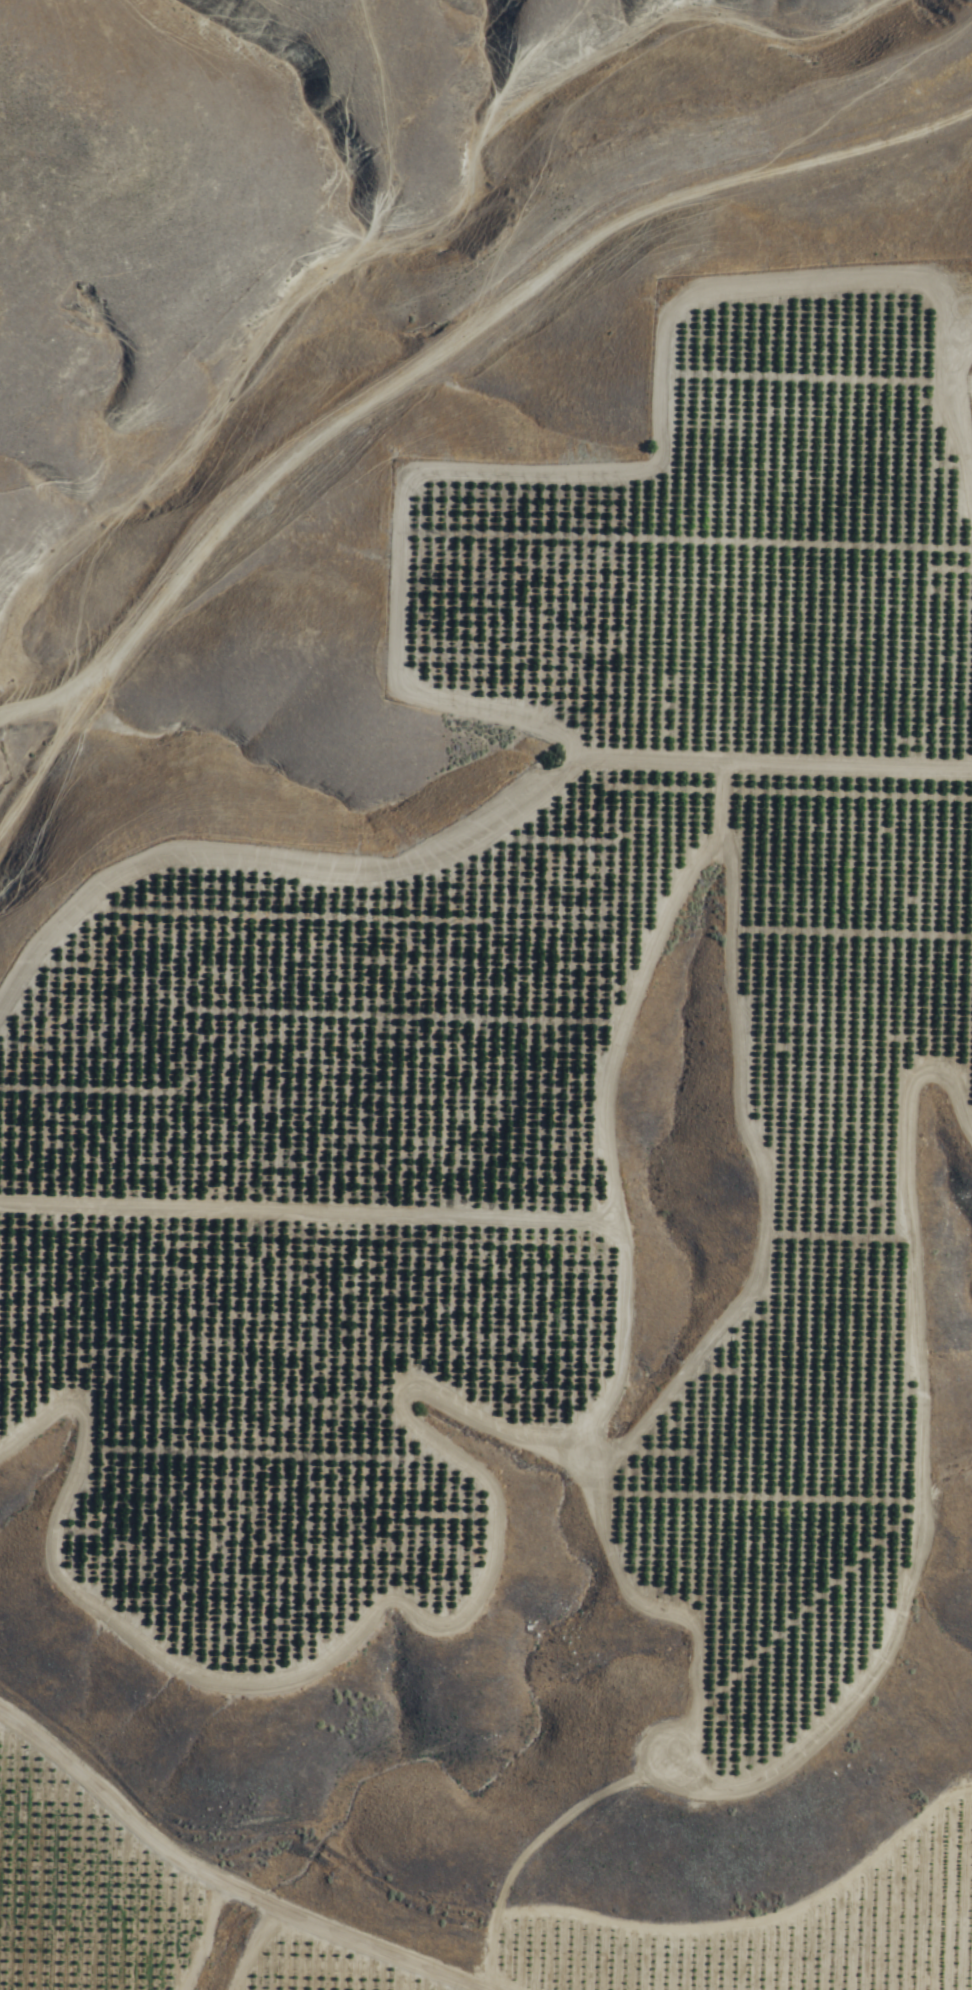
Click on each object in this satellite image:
road: (391, 653)
crop: (102, 1846)
road: (226, 1877)

